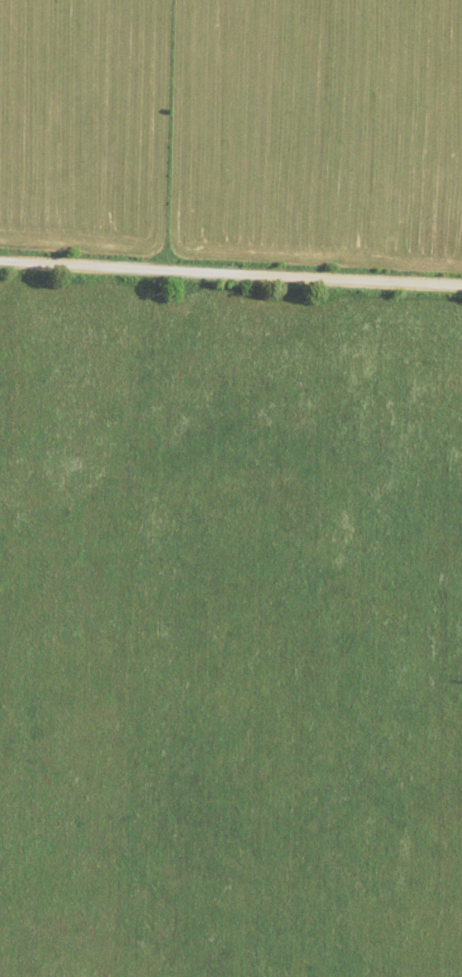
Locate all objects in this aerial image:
road: (231, 273)

